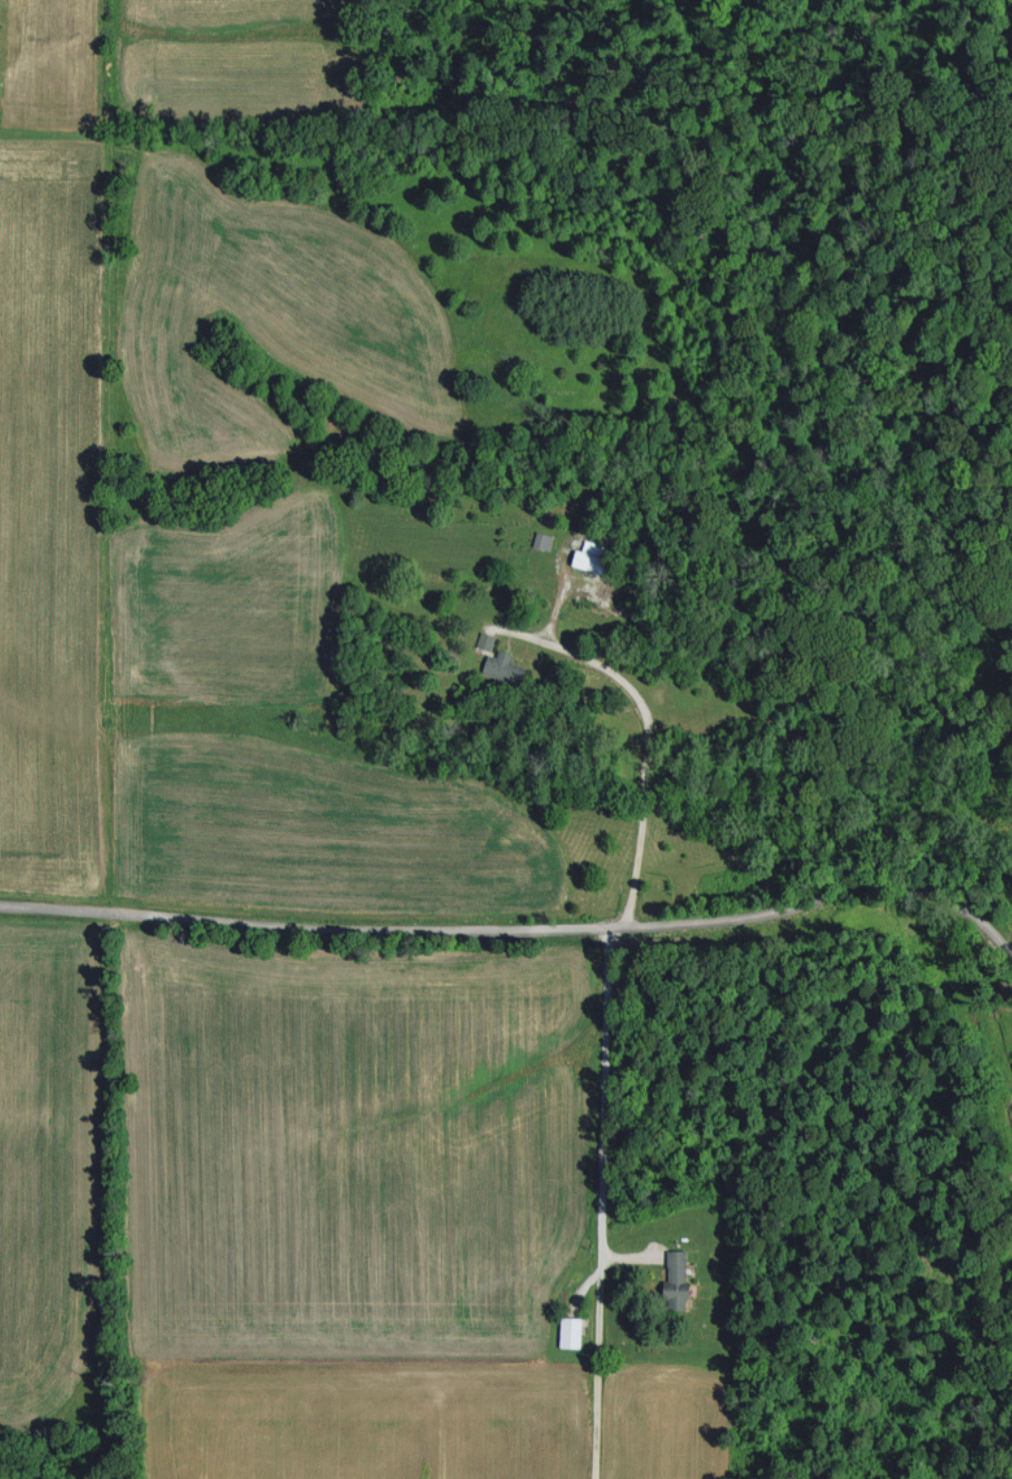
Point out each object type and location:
building: (544, 540)
building: (592, 556)
building: (487, 640)
building: (506, 667)
road: (644, 752)
road: (510, 929)
road: (603, 1204)
building: (678, 1280)
building: (572, 1331)

